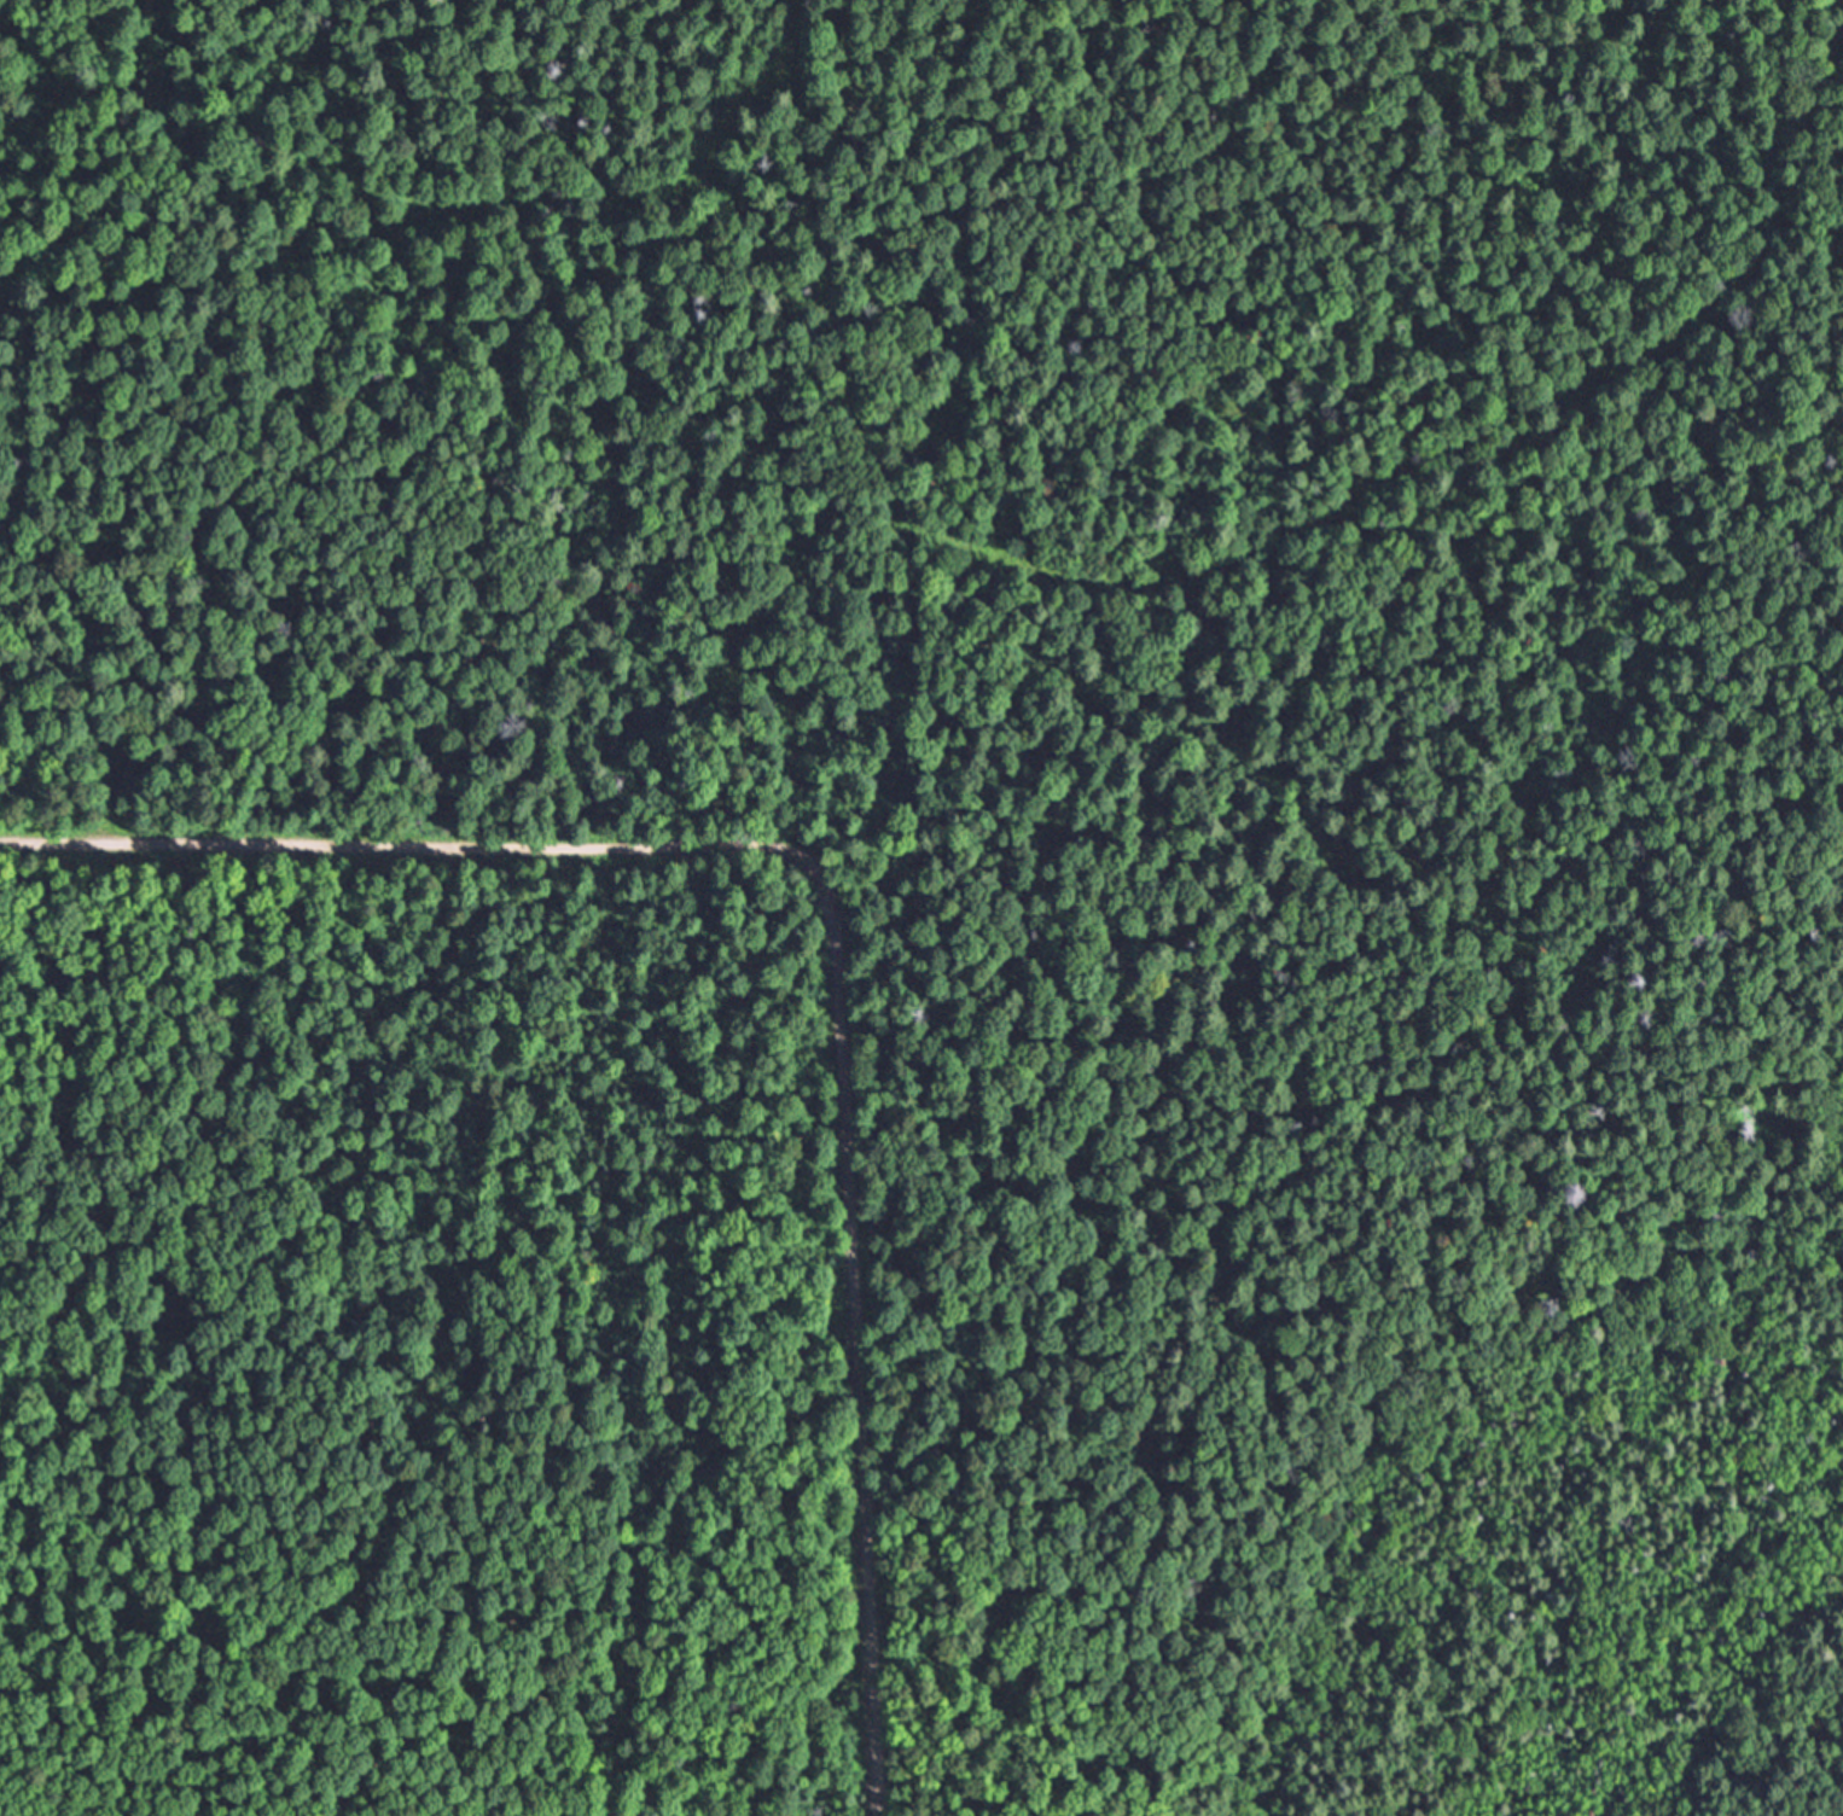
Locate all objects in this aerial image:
road: (822, 941)

